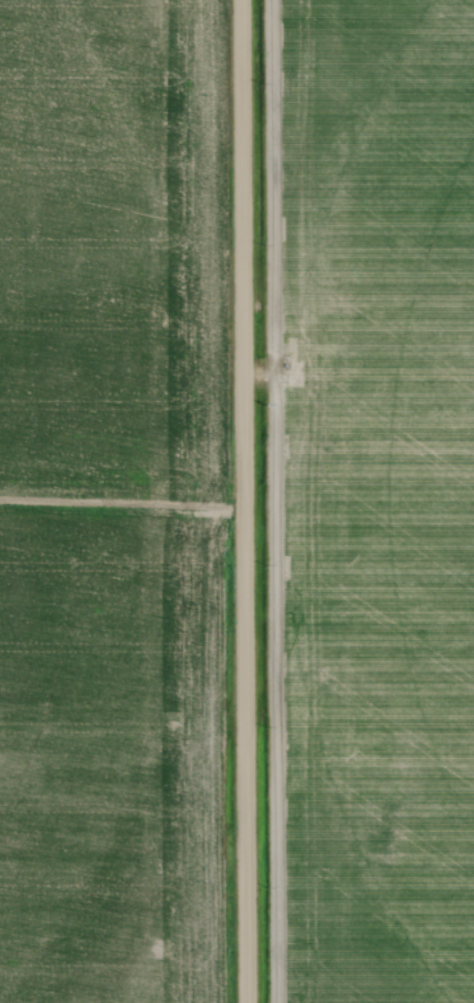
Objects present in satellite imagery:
road: (245, 501)

